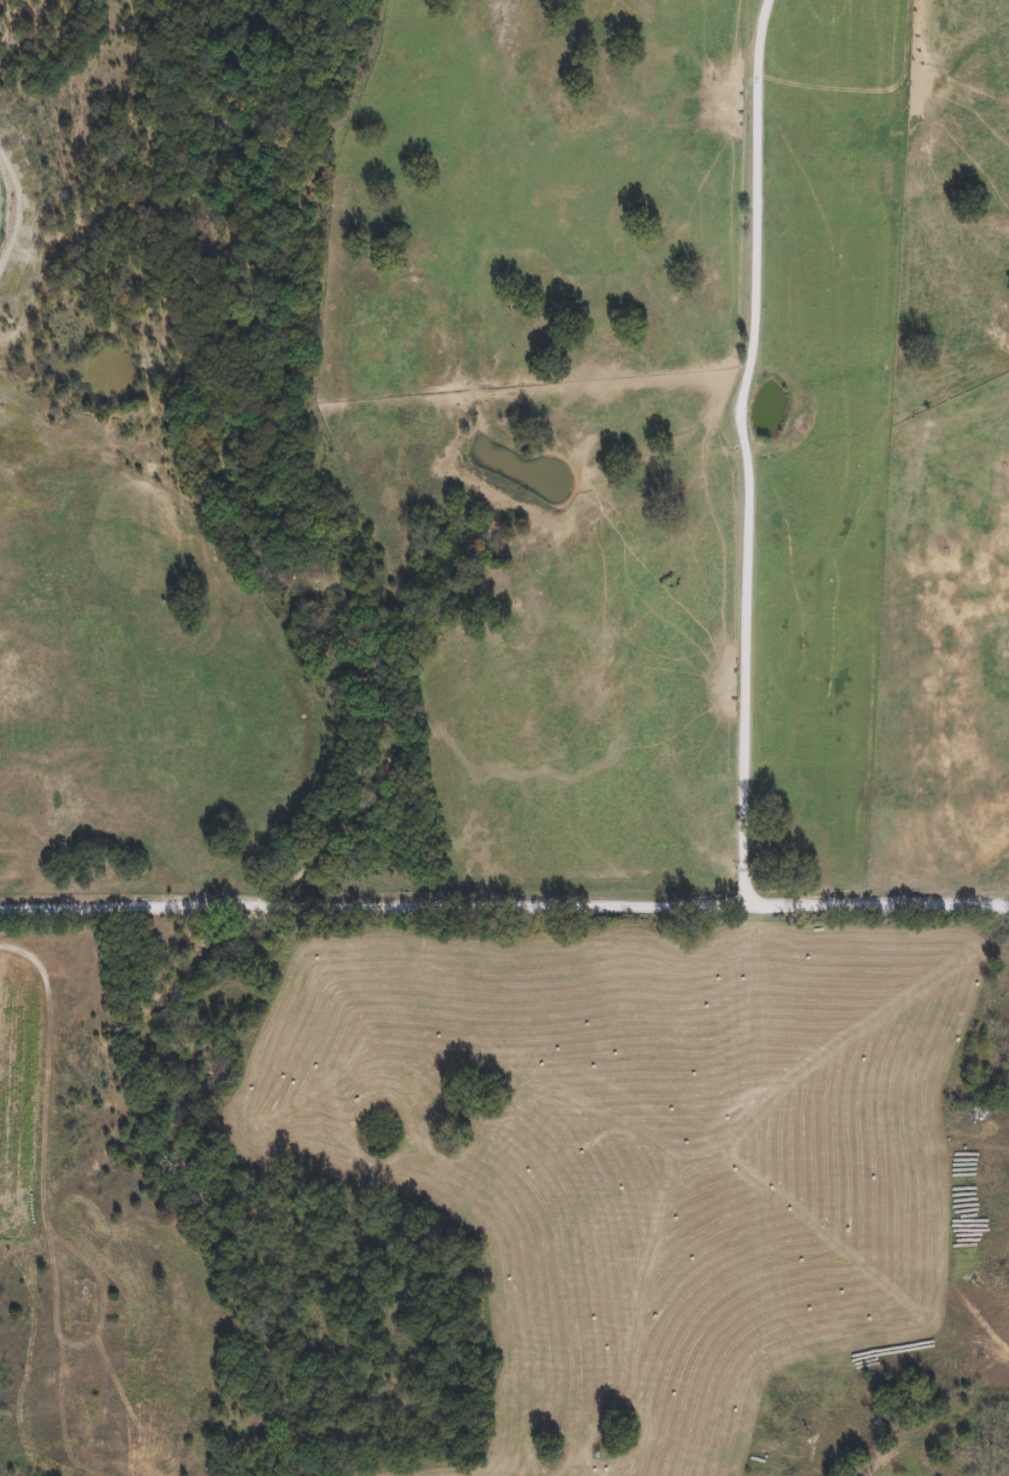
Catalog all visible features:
road: (754, 450)
road: (504, 907)

